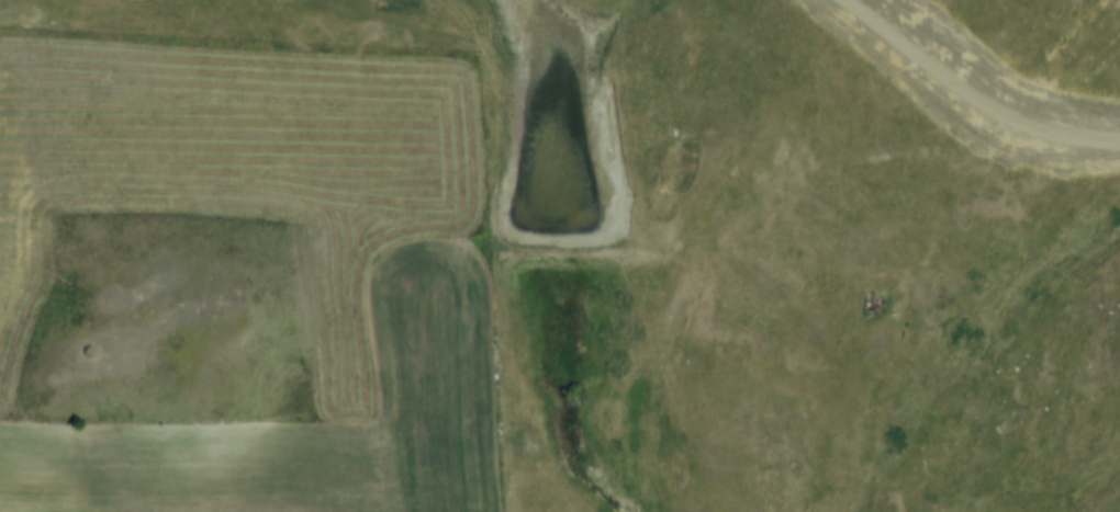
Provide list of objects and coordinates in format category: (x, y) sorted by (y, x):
road: (956, 88)
road: (754, 184)

